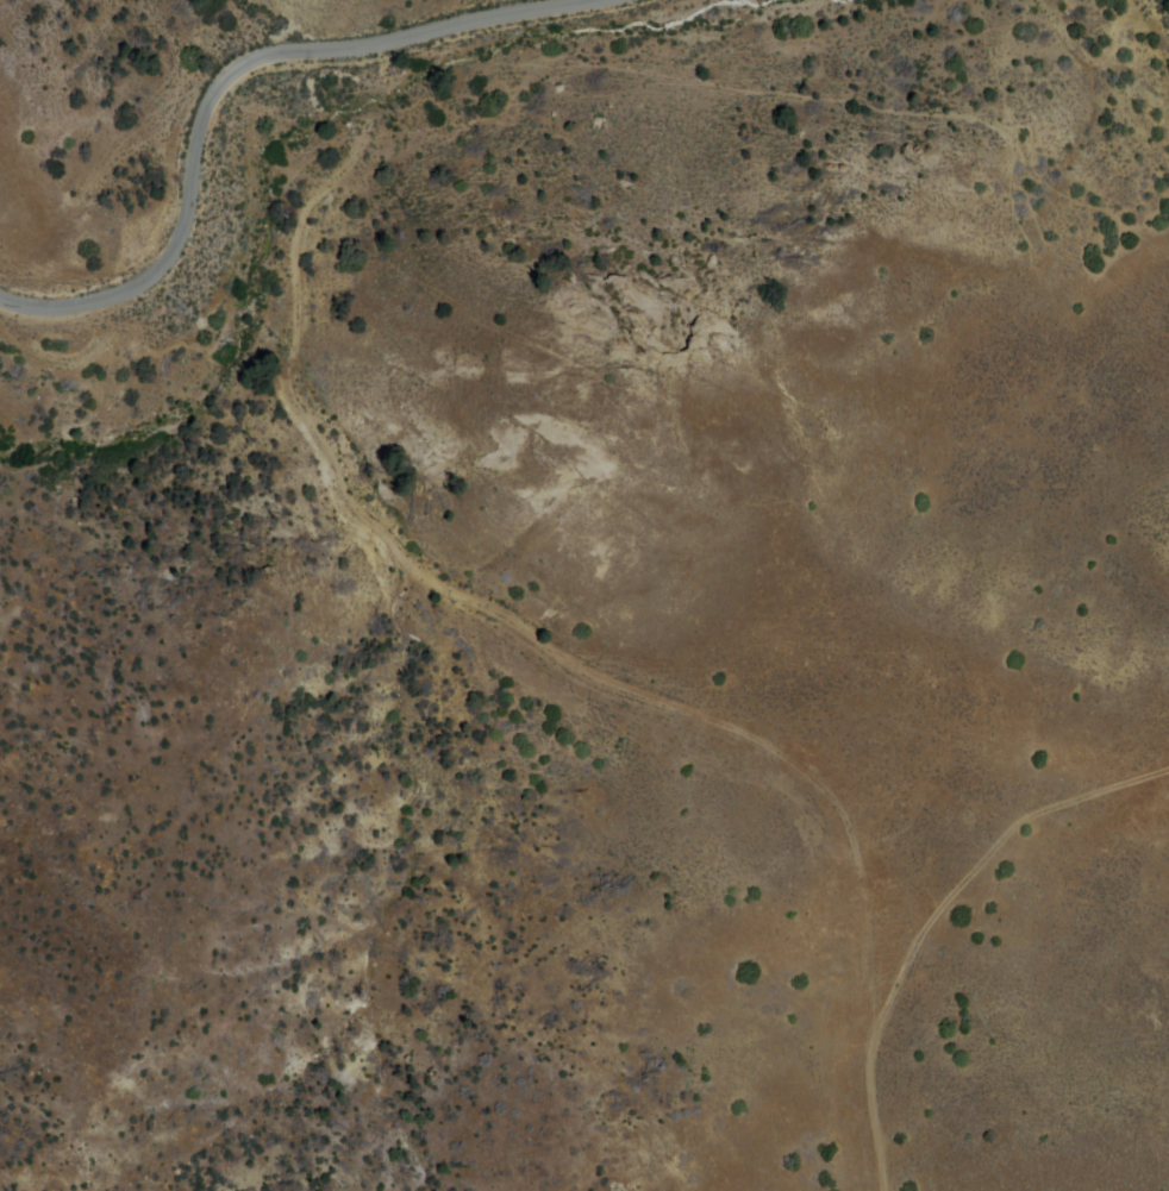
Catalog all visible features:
road: (196, 94)

